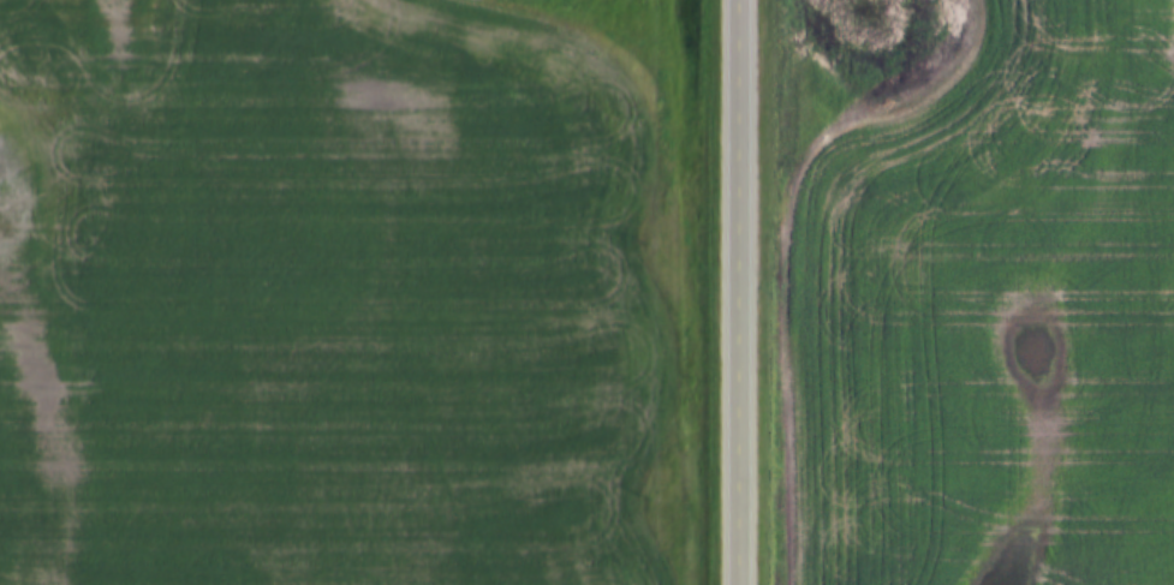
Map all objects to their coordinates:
road: (737, 292)

